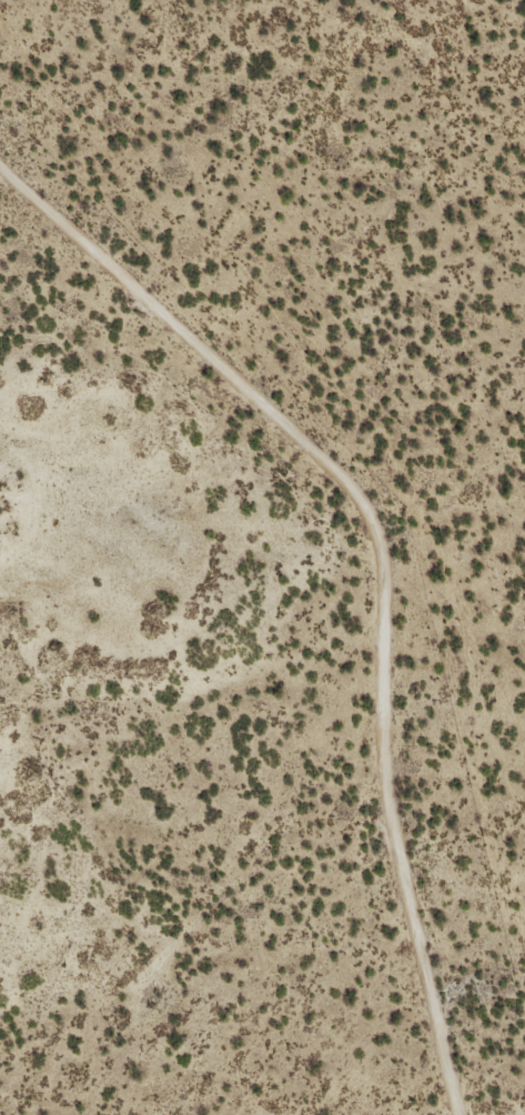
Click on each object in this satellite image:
road: (383, 564)

